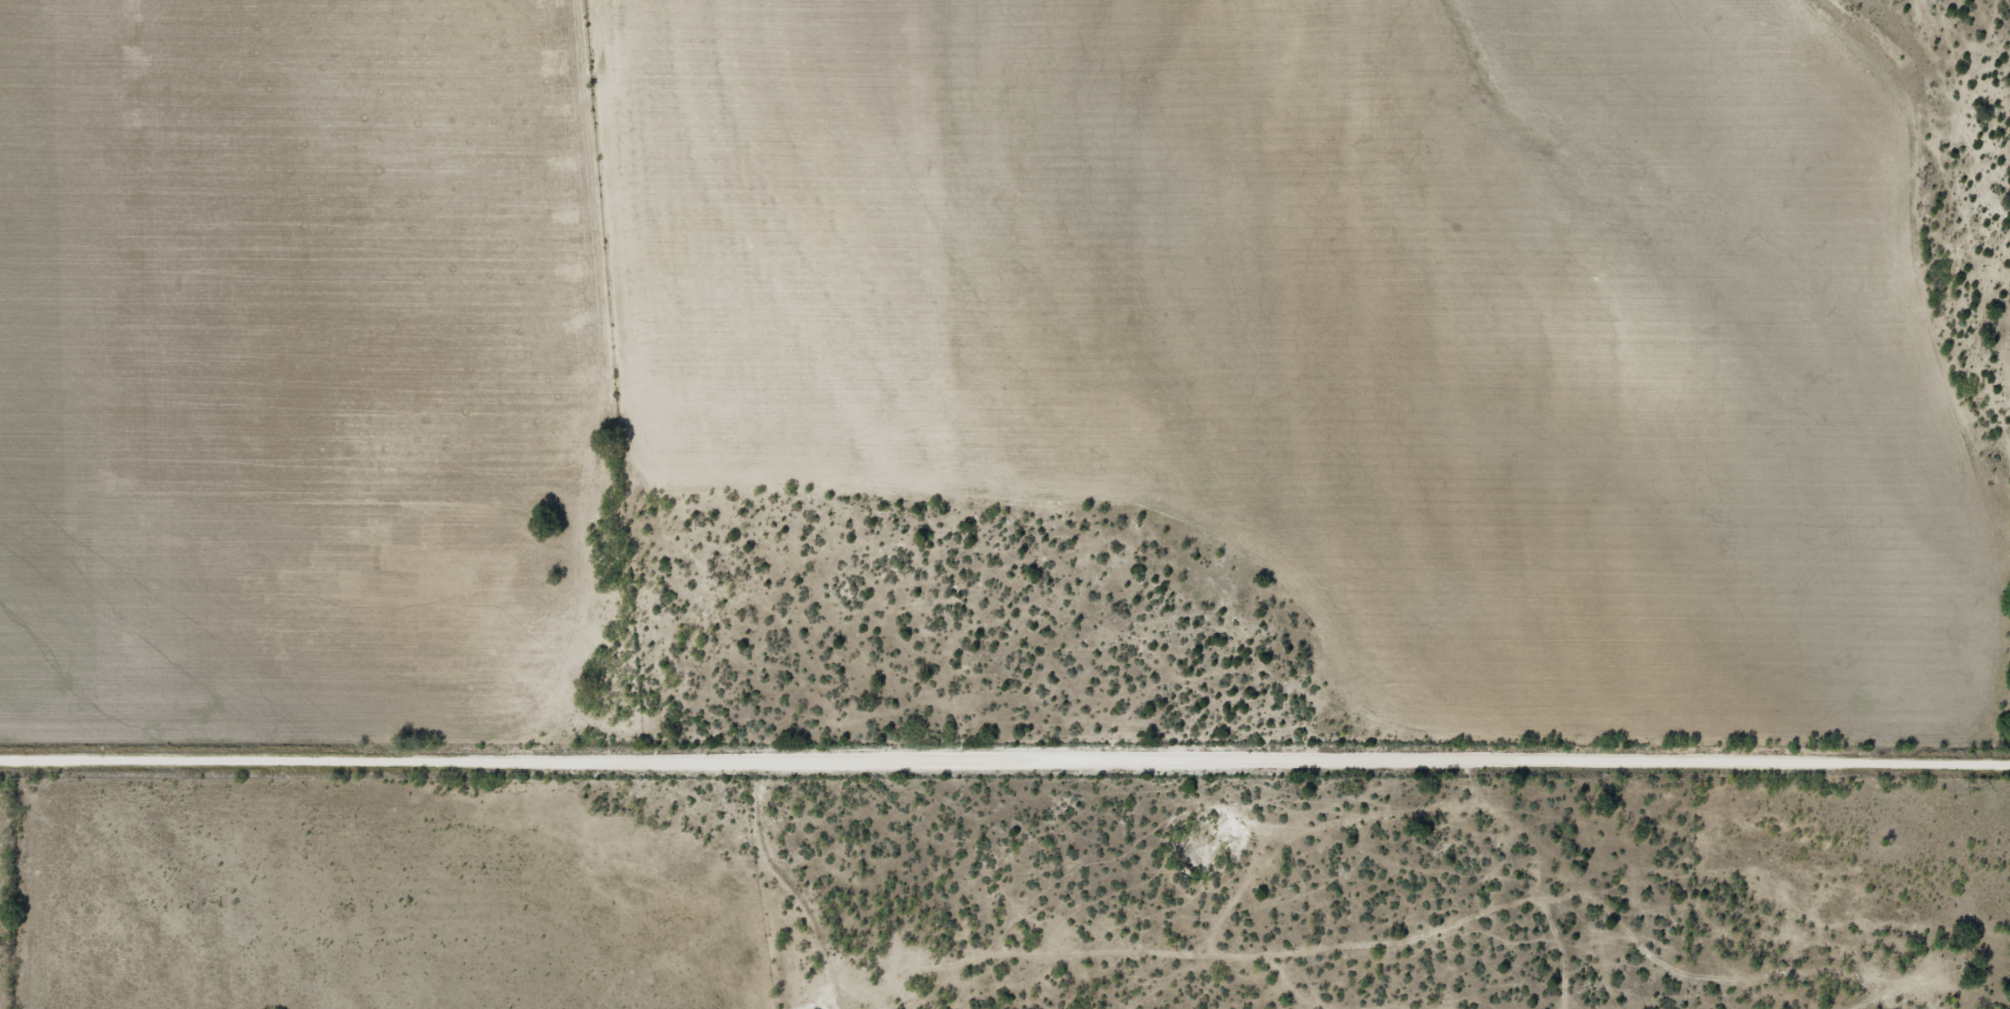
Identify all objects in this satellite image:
road: (1005, 763)

